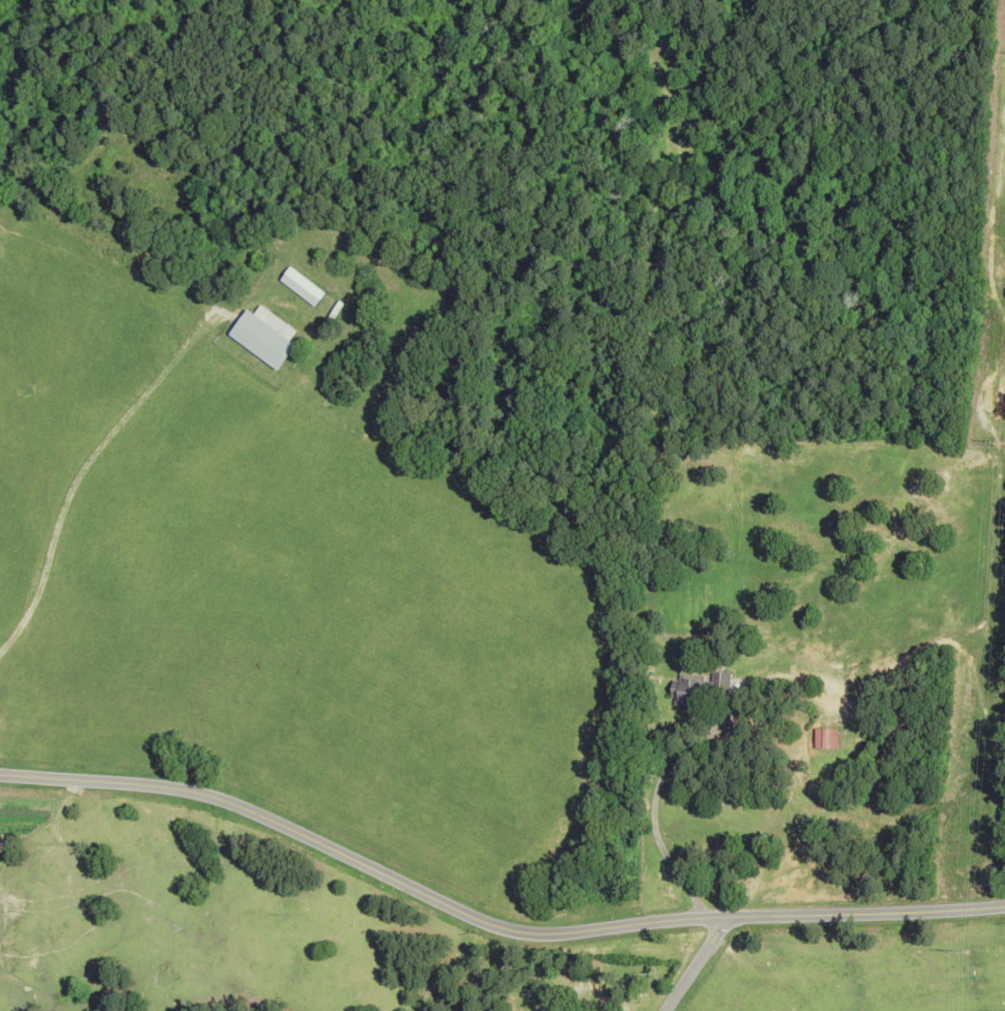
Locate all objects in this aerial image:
building: (259, 339)
building: (699, 689)
building: (826, 738)
road: (642, 799)
road: (360, 862)
road: (863, 912)
road: (695, 964)

